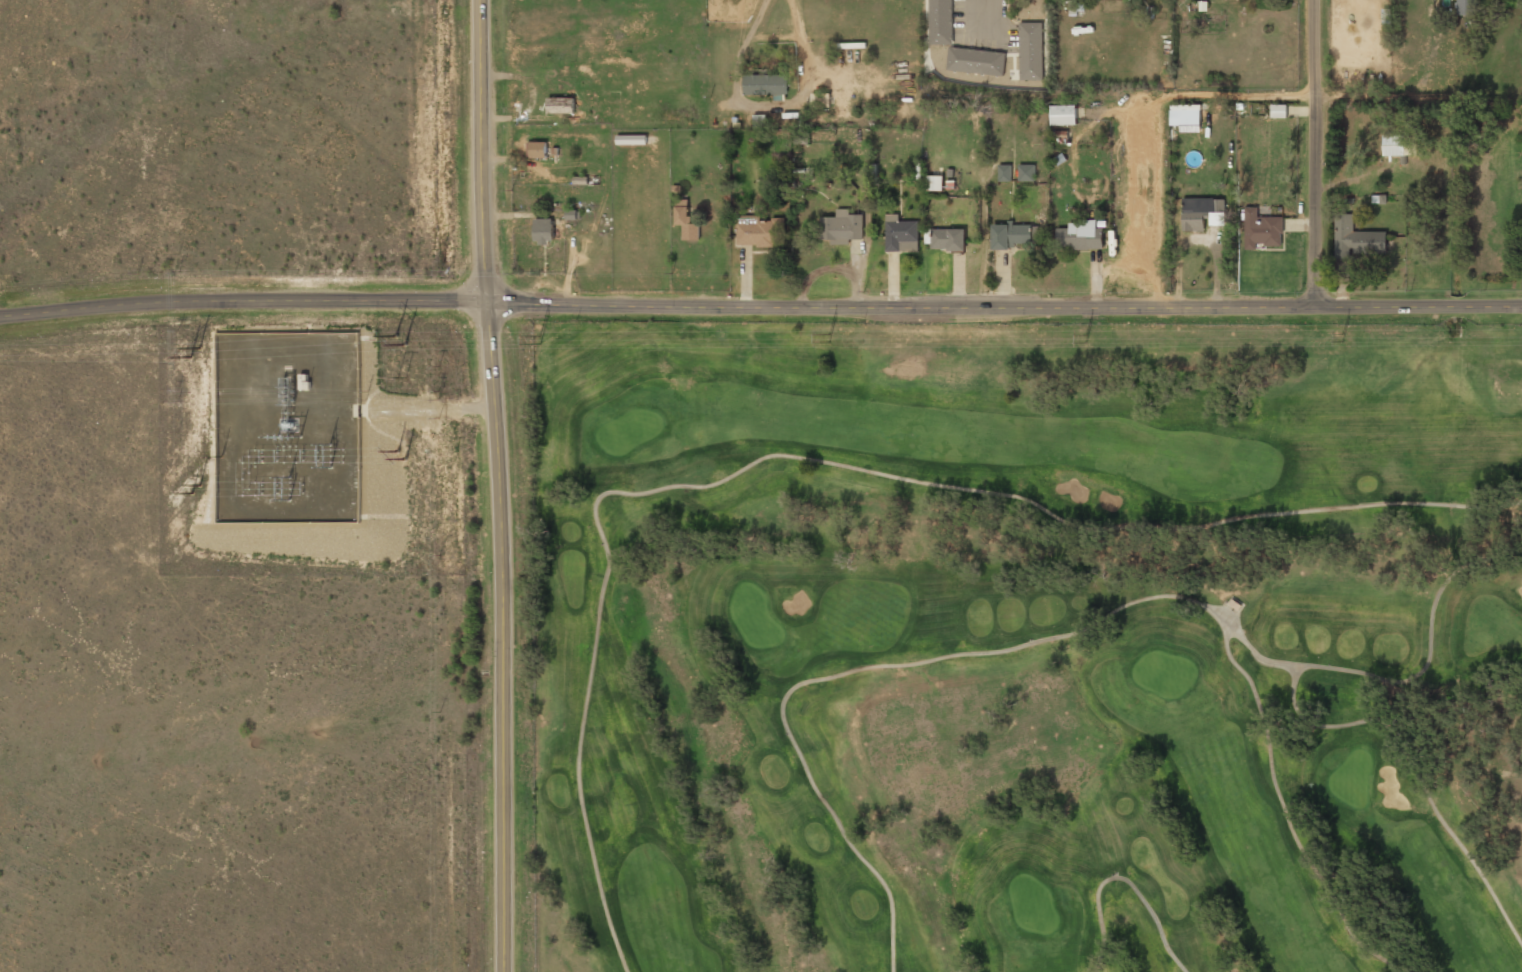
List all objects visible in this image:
building: (1466, 7)
road: (987, 13)
building: (938, 21)
building: (1029, 51)
building: (974, 61)
building: (764, 84)
building: (820, 100)
building: (560, 104)
building: (1278, 111)
building: (1063, 114)
building: (564, 116)
building: (1061, 134)
building: (1411, 139)
building: (1394, 144)
building: (528, 149)
building: (537, 149)
building: (554, 151)
road: (1310, 153)
building: (1059, 158)
building: (1403, 159)
building: (1004, 172)
building: (1026, 172)
building: (580, 180)
building: (934, 182)
building: (950, 184)
building: (675, 188)
building: (1382, 198)
building: (1375, 199)
building: (681, 202)
building: (1201, 213)
building: (570, 214)
building: (686, 223)
building: (1102, 223)
building: (841, 227)
building: (1261, 229)
building: (543, 230)
building: (759, 230)
building: (900, 234)
building: (1010, 234)
building: (1080, 235)
building: (927, 236)
building: (1355, 238)
building: (948, 239)
road: (242, 301)
road: (1003, 305)
power tower: (1342, 337)
power tower: (827, 338)
power tower: (1084, 338)
power tower: (539, 339)
power tower: (398, 340)
power tower: (196, 352)
power substation: (288, 428)
power tower: (401, 455)
road: (819, 461)
road: (500, 485)
power tower: (197, 490)
building: (1234, 604)
road: (1053, 637)
park: (1026, 647)
road: (1416, 770)
road: (1284, 811)
road: (1122, 877)

